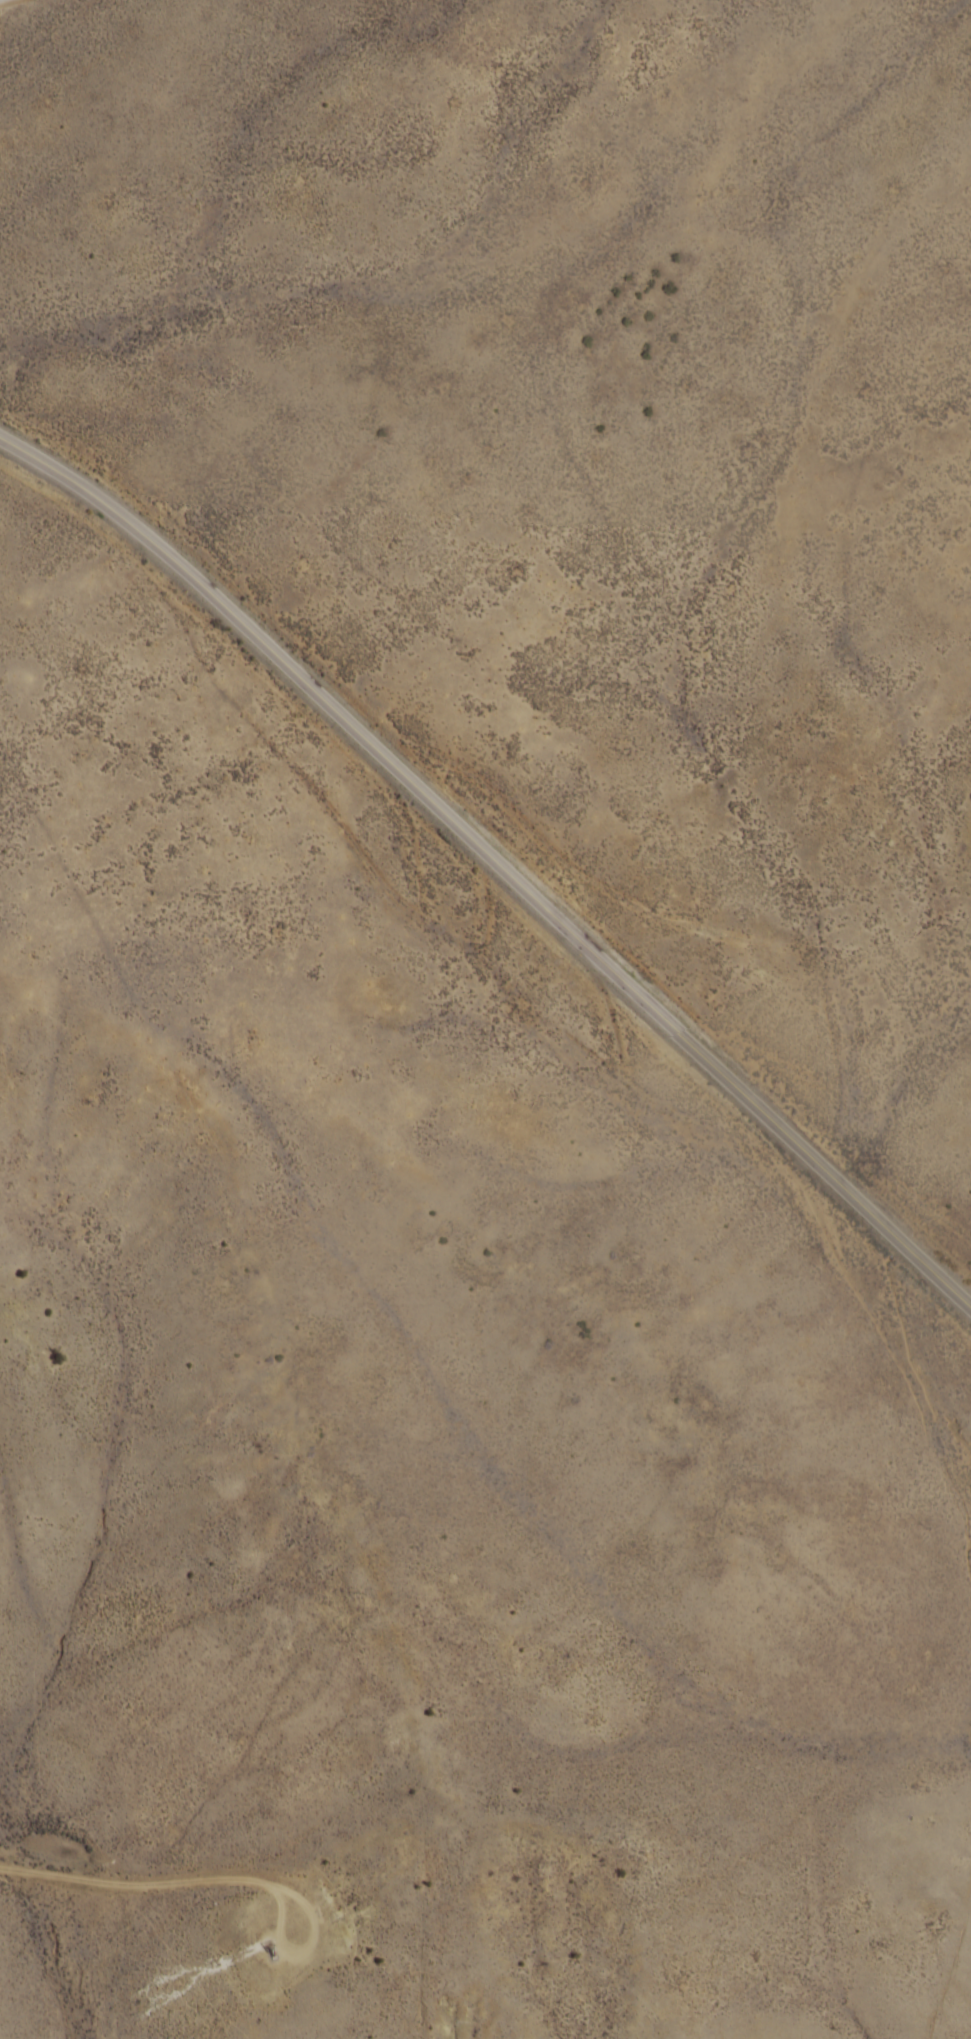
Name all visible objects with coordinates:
road: (494, 858)

